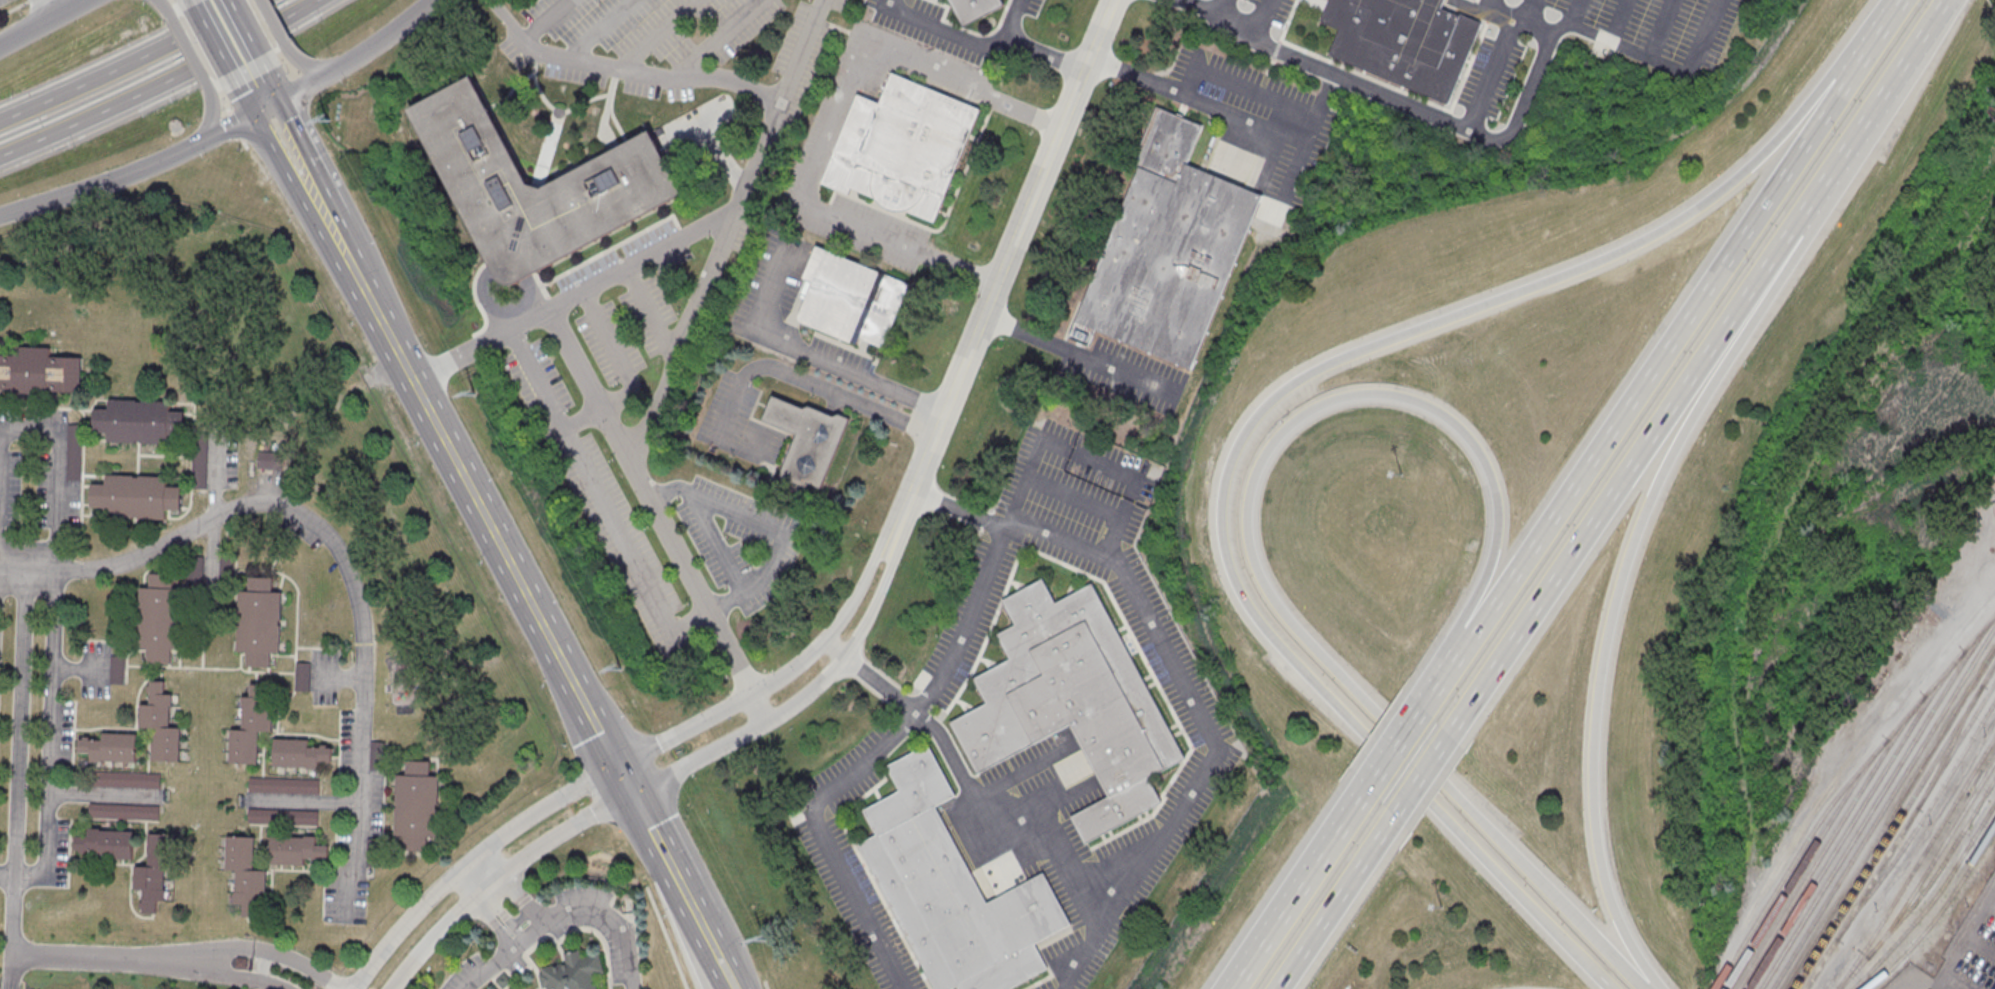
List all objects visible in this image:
parking lot: (1253, 1)
road: (172, 3)
road: (307, 5)
road: (13, 7)
building: (973, 8)
road: (43, 9)
road: (1206, 10)
road: (1576, 12)
road: (1530, 13)
road: (1258, 18)
road: (546, 20)
road: (1617, 20)
parking lot: (1642, 21)
road: (40, 22)
road: (1517, 22)
road: (199, 25)
parking lot: (641, 25)
road: (1659, 28)
road: (265, 29)
road: (1925, 29)
road: (603, 30)
road: (276, 34)
road: (657, 34)
road: (961, 35)
road: (719, 38)
road: (1869, 38)
road: (377, 39)
road: (244, 40)
building: (1404, 41)
road: (231, 46)
road: (197, 47)
road: (214, 47)
road: (1044, 52)
road: (186, 53)
road: (862, 54)
parking lot: (921, 57)
parking lot: (802, 59)
road: (286, 63)
road: (918, 67)
road: (624, 69)
road: (309, 70)
road: (293, 72)
road: (1216, 75)
road: (1490, 75)
road: (76, 86)
road: (302, 88)
road: (271, 90)
road: (221, 96)
traffic signals: (276, 99)
road: (245, 103)
road: (262, 105)
road: (226, 108)
road: (1023, 110)
traffic signals: (250, 112)
road: (82, 119)
power tower: (329, 119)
road: (1246, 120)
parking lot: (692, 121)
road: (697, 121)
road: (208, 124)
road: (234, 125)
road: (1514, 126)
parking lot: (818, 132)
road: (829, 133)
road: (1851, 140)
road: (243, 143)
building: (902, 145)
road: (722, 152)
road: (1296, 169)
road: (312, 177)
road: (106, 182)
building: (534, 188)
road: (310, 207)
road: (860, 229)
parking lot: (867, 230)
road: (681, 231)
road: (725, 233)
building: (1168, 248)
road: (606, 250)
parking lot: (617, 260)
road: (510, 265)
road: (1001, 267)
road: (958, 268)
road: (359, 279)
road: (575, 295)
road: (536, 297)
building: (851, 298)
road: (549, 302)
road: (501, 309)
road: (649, 311)
road: (502, 326)
road: (605, 334)
parking lot: (609, 343)
road: (1075, 352)
road: (813, 356)
road: (777, 367)
building: (39, 372)
road: (534, 384)
road: (1637, 386)
power tower: (473, 395)
road: (43, 406)
road: (600, 407)
building: (139, 420)
road: (31, 425)
road: (560, 430)
road: (1241, 431)
building: (807, 439)
building: (75, 452)
road: (192, 457)
parking lot: (216, 459)
road: (216, 459)
building: (202, 461)
building: (270, 461)
parking lot: (54, 462)
road: (1622, 479)
road: (59, 482)
street lamp: (1400, 485)
parking lot: (9, 486)
road: (667, 490)
parking lot: (597, 493)
road: (1071, 495)
building: (136, 498)
road: (214, 505)
parking lot: (742, 511)
road: (656, 515)
road: (778, 526)
parking lot: (302, 527)
road: (493, 533)
road: (1247, 538)
road: (717, 541)
road: (624, 546)
parking lot: (713, 546)
road: (280, 554)
road: (13, 555)
road: (212, 556)
road: (345, 558)
road: (158, 570)
building: (196, 571)
building: (227, 571)
road: (1616, 592)
road: (701, 612)
building: (160, 619)
road: (210, 619)
road: (966, 619)
building: (259, 624)
road: (203, 629)
road: (111, 640)
road: (296, 647)
road: (319, 648)
road: (127, 663)
road: (184, 666)
power tower: (621, 667)
building: (118, 668)
road: (261, 671)
road: (256, 676)
parking lot: (321, 676)
road: (339, 676)
building: (304, 677)
road: (778, 677)
road: (272, 685)
road: (1179, 689)
road: (800, 698)
road: (1425, 701)
building: (1072, 702)
building: (161, 724)
building: (251, 727)
road: (283, 732)
railway: (1951, 742)
road: (50, 744)
road: (339, 744)
parking lot: (352, 744)
road: (1394, 746)
building: (112, 747)
building: (300, 752)
building: (378, 755)
road: (19, 758)
traffic signals: (615, 764)
road: (1422, 776)
building: (125, 778)
road: (623, 778)
building: (284, 785)
road: (832, 788)
railway: (1841, 791)
traffic signals: (631, 792)
road: (104, 794)
railway: (1876, 801)
road: (304, 802)
building: (417, 805)
railway: (1883, 808)
building: (125, 810)
road: (642, 812)
building: (283, 816)
railway: (1854, 817)
railway: (1889, 818)
road: (1342, 821)
railway: (1919, 822)
railway: (1895, 826)
road: (998, 830)
railway: (1900, 835)
railway: (1829, 839)
building: (107, 842)
building: (297, 848)
building: (375, 853)
road: (470, 859)
road: (668, 859)
railway: (1933, 860)
railway: (1804, 862)
railway: (1917, 864)
building: (156, 868)
building: (246, 872)
road: (499, 876)
road: (509, 884)
building: (952, 889)
railway: (1925, 889)
parking lot: (345, 899)
road: (1337, 902)
railway: (1931, 902)
road: (483, 904)
street lamp: (1442, 909)
road: (564, 910)
road: (696, 914)
railway: (1938, 914)
road: (1272, 922)
road: (600, 937)
road: (666, 937)
road: (695, 938)
power tower: (765, 940)
road: (532, 947)
road: (262, 948)
parking lot: (1961, 954)
road: (92, 959)
road: (716, 964)
road: (728, 964)
road: (524, 969)
building: (573, 972)
road: (229, 974)
road: (765, 985)

